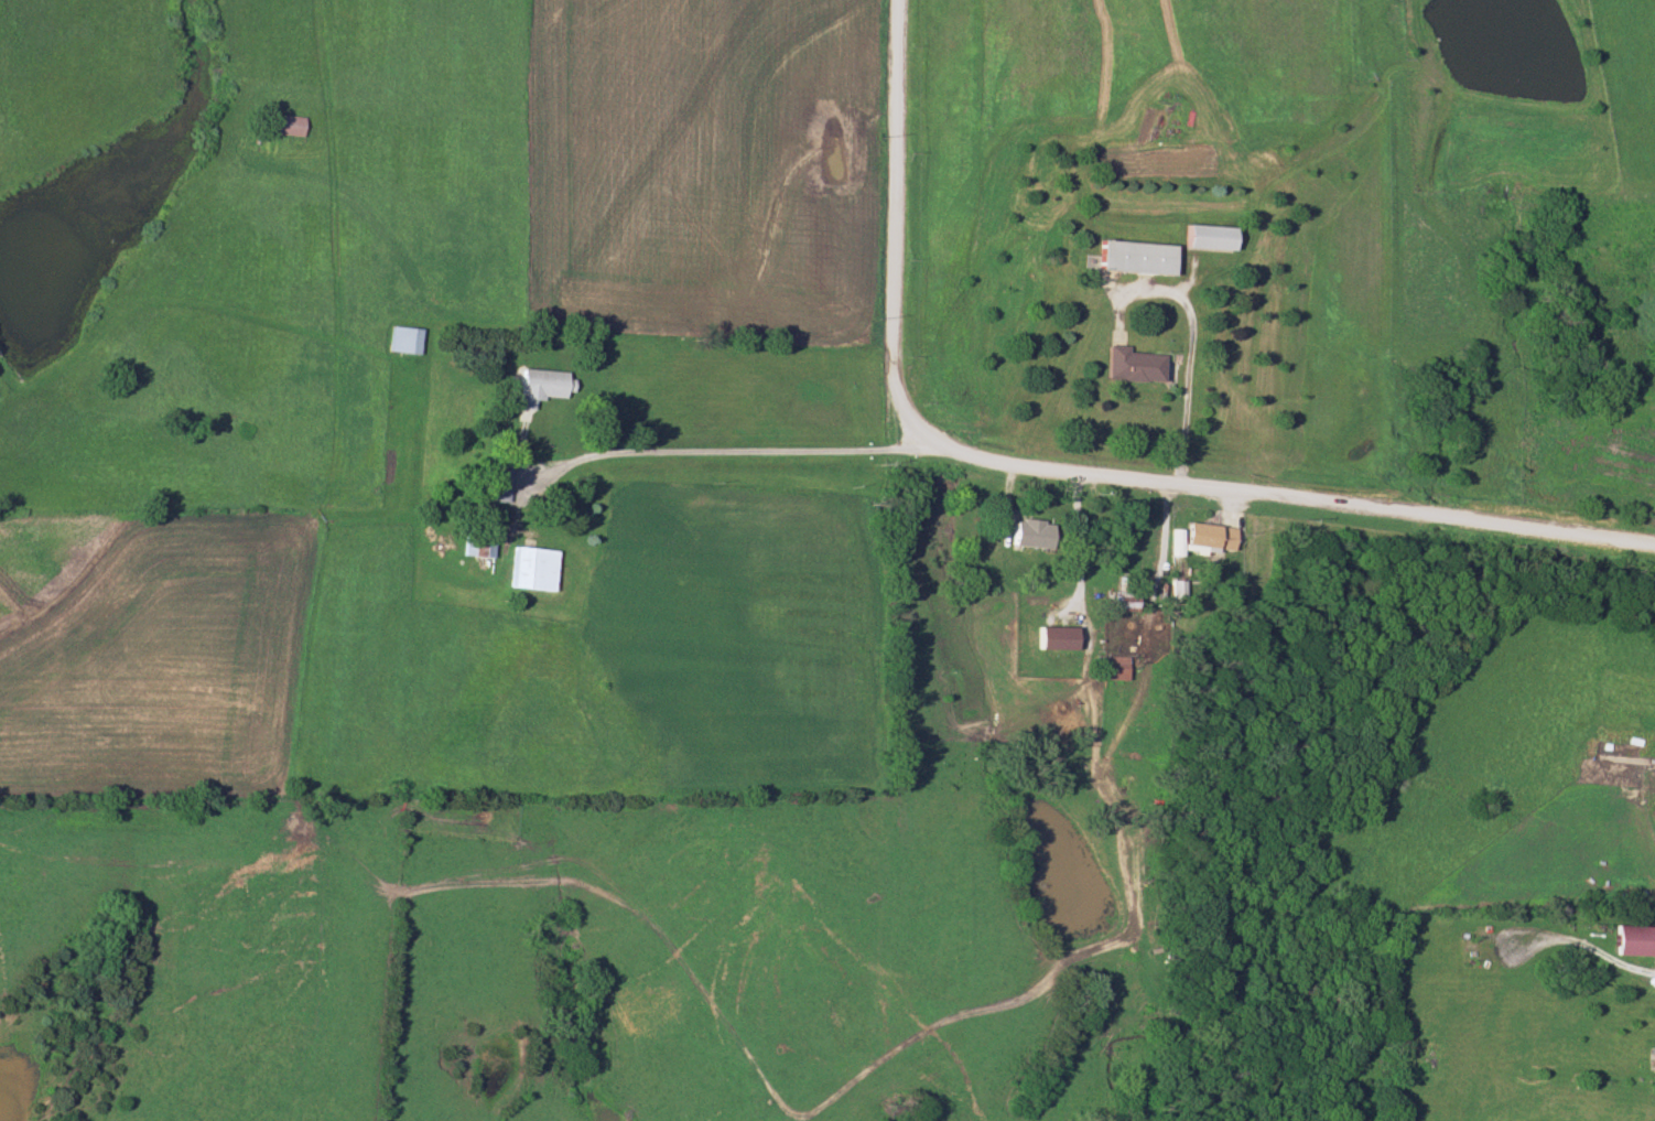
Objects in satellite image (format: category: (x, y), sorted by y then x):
building: (285, 126)
road: (895, 225)
building: (1207, 236)
building: (1134, 256)
building: (399, 339)
building: (1129, 364)
building: (536, 386)
road: (723, 455)
building: (494, 484)
road: (1280, 502)
building: (1027, 532)
building: (1126, 532)
building: (1205, 537)
building: (485, 539)
building: (530, 568)
building: (1172, 588)
building: (1117, 594)
building: (1107, 667)
road: (1132, 718)
road: (1573, 939)
building: (1633, 940)

